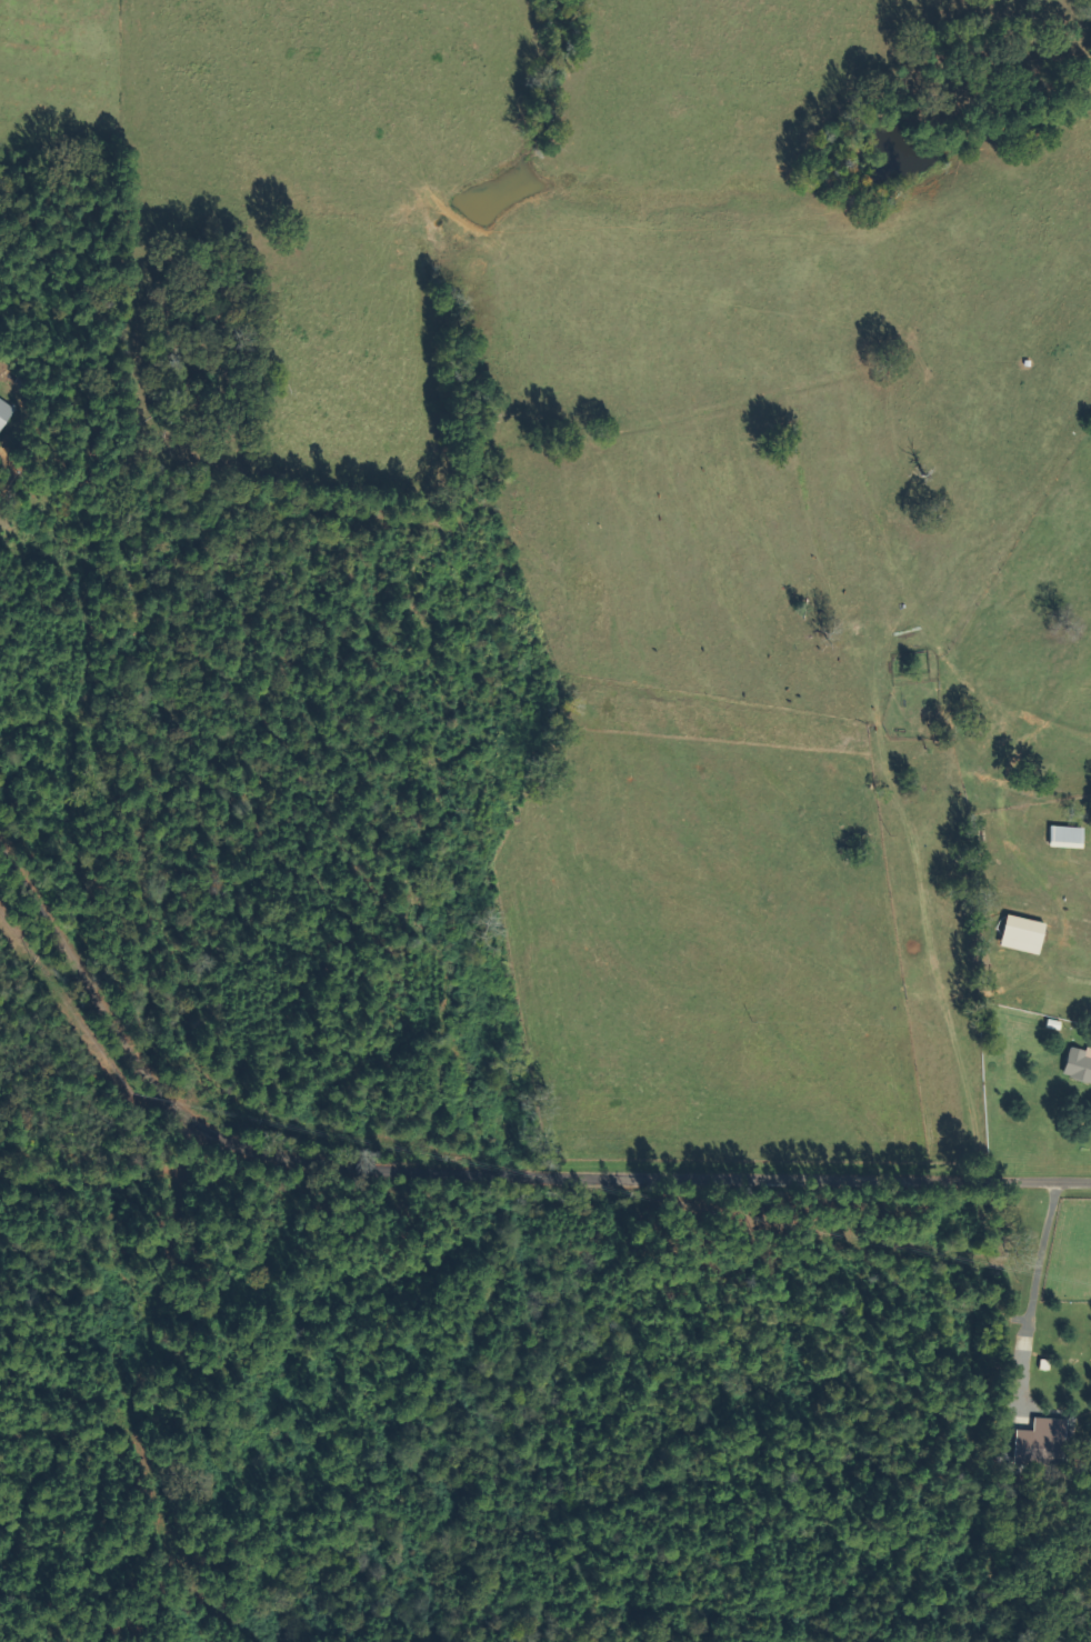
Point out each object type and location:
road: (183, 177)
building: (6, 413)
road: (439, 810)
building: (1069, 838)
building: (1025, 935)
road: (964, 945)
building: (1081, 1065)
road: (488, 1212)
building: (1045, 1443)

